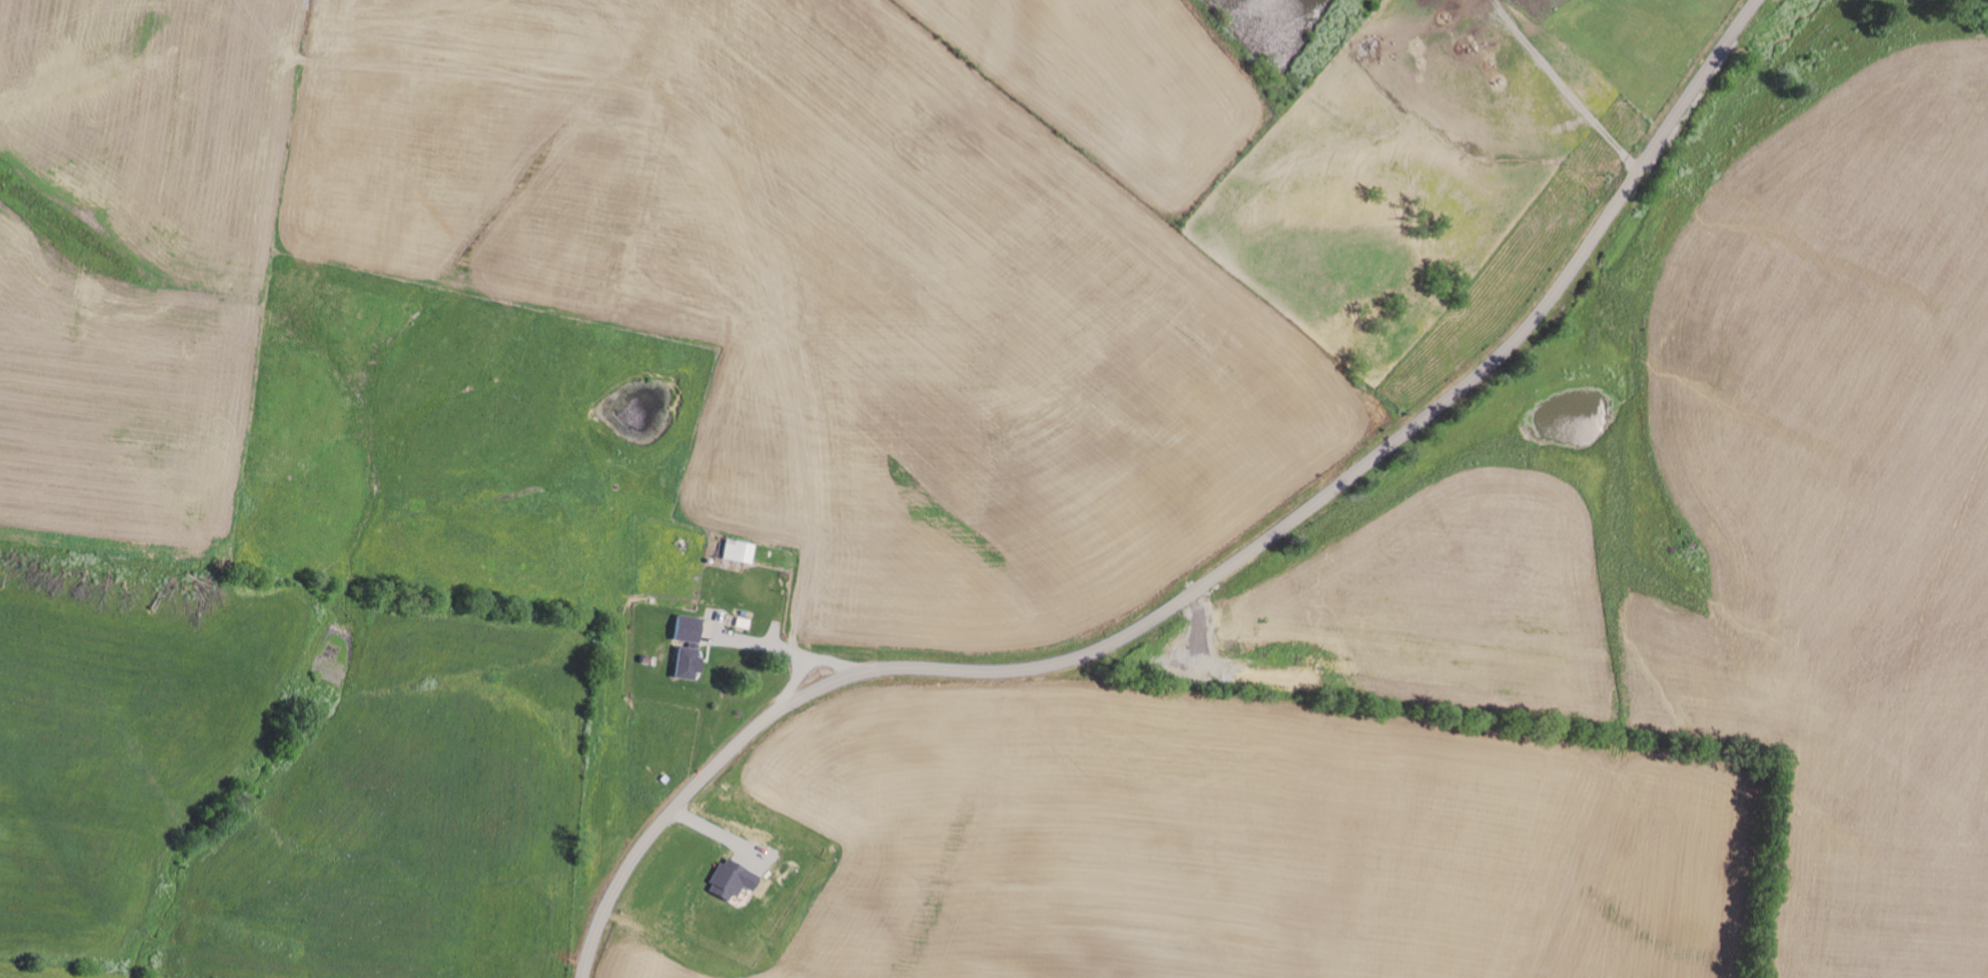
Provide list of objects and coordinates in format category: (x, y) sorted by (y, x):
building: (737, 550)
road: (1216, 581)
building: (686, 628)
road: (763, 644)
building: (686, 662)
road: (805, 665)
building: (729, 879)

